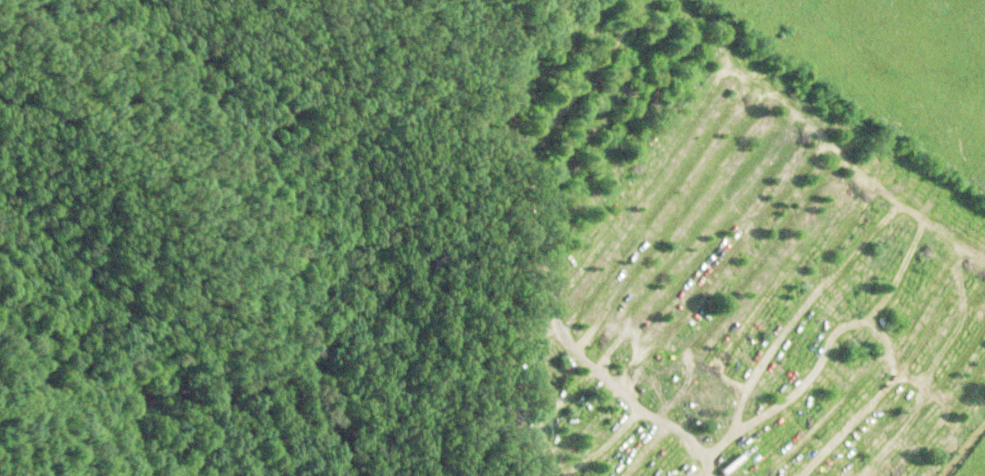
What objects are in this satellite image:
road: (238, 387)

